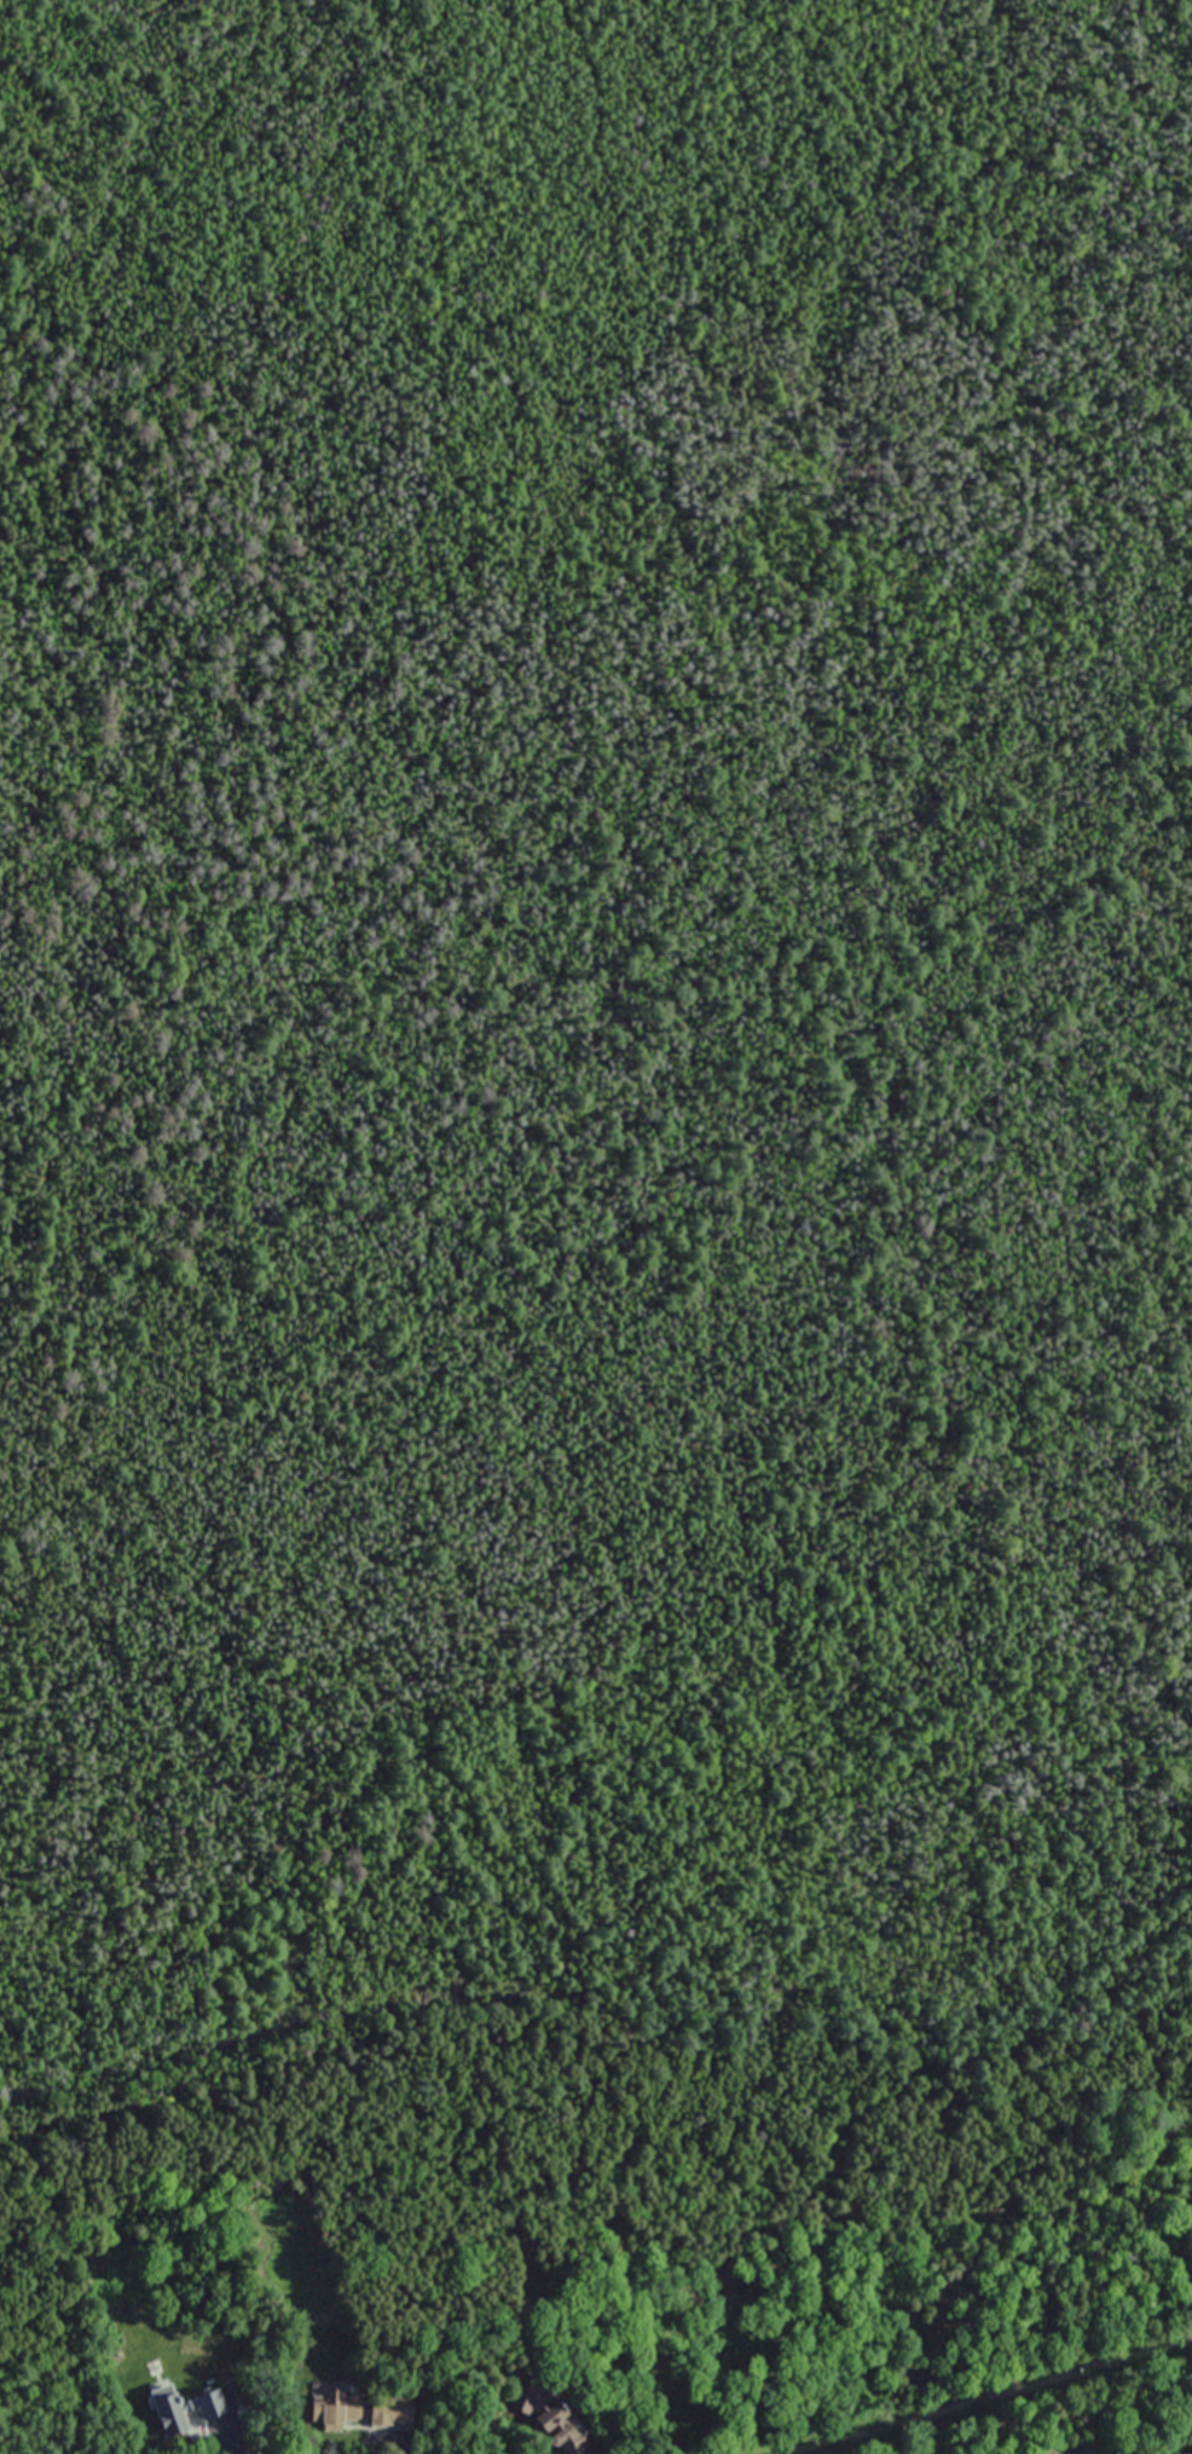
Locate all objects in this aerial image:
building: (180, 2408)
building: (357, 2410)
building: (557, 2435)
road: (382, 2439)
road: (231, 2450)

